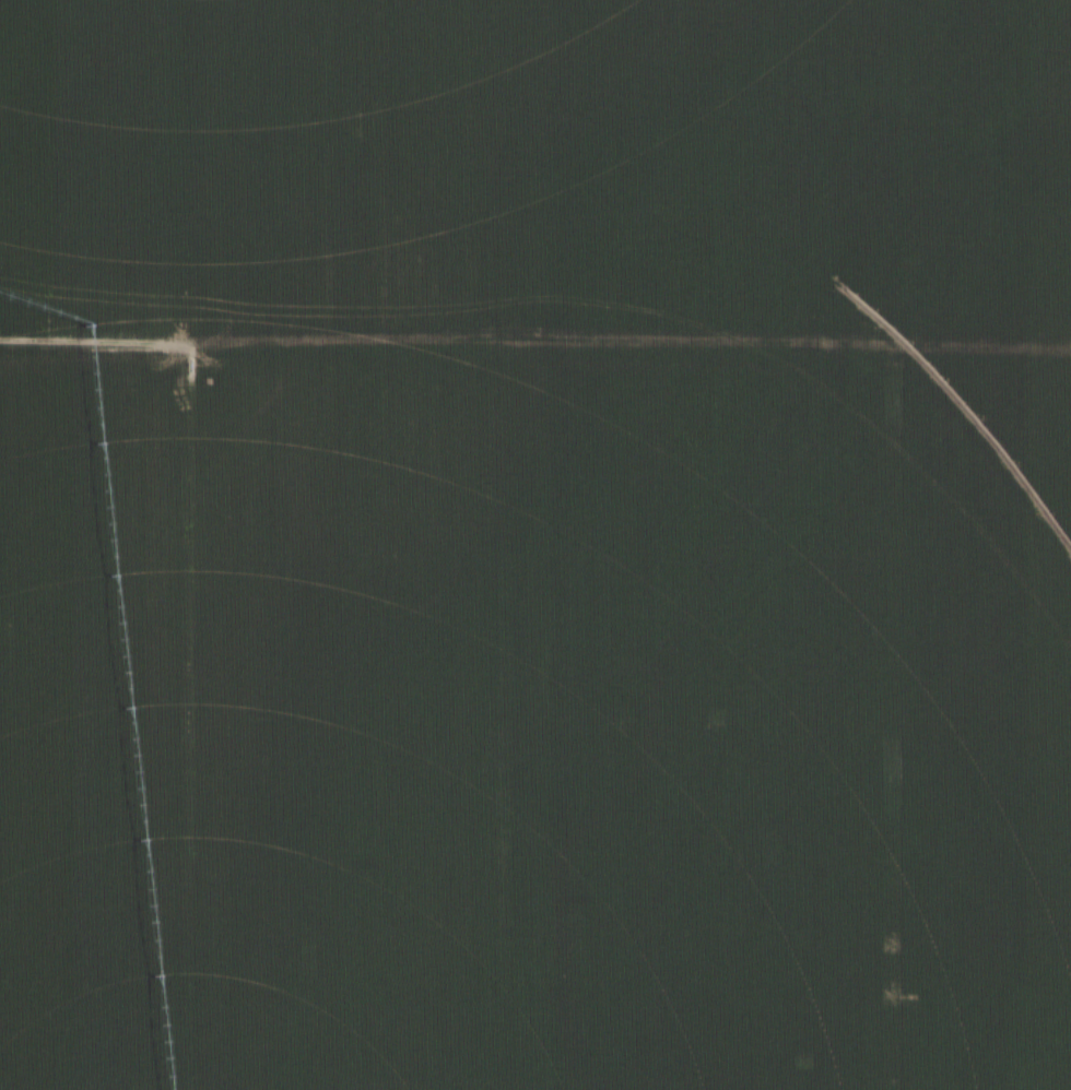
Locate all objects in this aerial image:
crop: (534, 165)
road: (535, 342)
crop: (535, 720)

